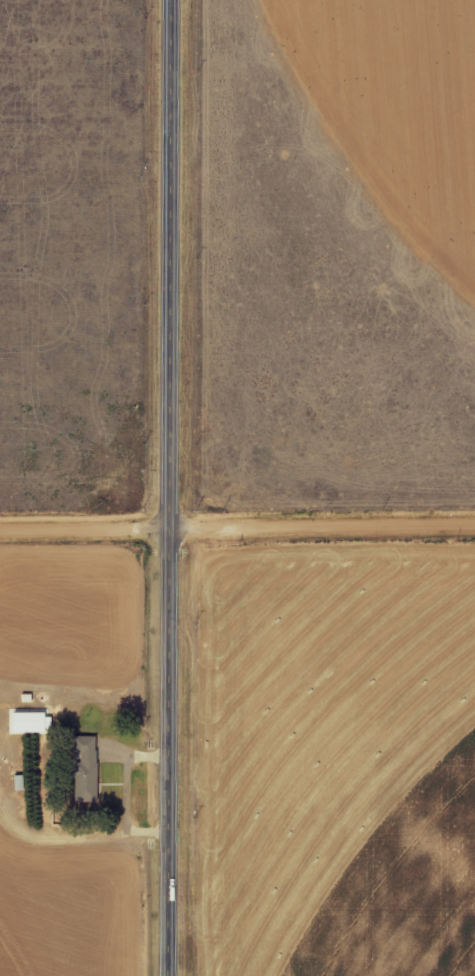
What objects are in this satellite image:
road: (172, 488)
road: (237, 529)
building: (31, 724)
building: (85, 761)

